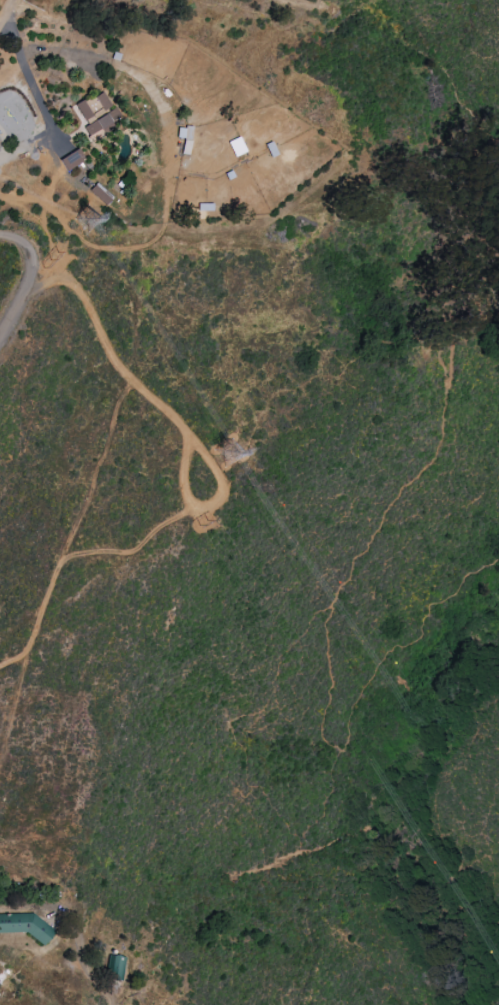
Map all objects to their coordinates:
road: (7, 16)
road: (27, 73)
building: (96, 113)
building: (71, 160)
building: (99, 194)
power tower: (90, 218)
power tower: (49, 258)
road: (28, 277)
power tower: (230, 453)
road: (99, 467)
road: (220, 494)
power tower: (200, 522)
road: (367, 546)
road: (383, 655)
building: (25, 926)
road: (82, 955)
building: (115, 967)

